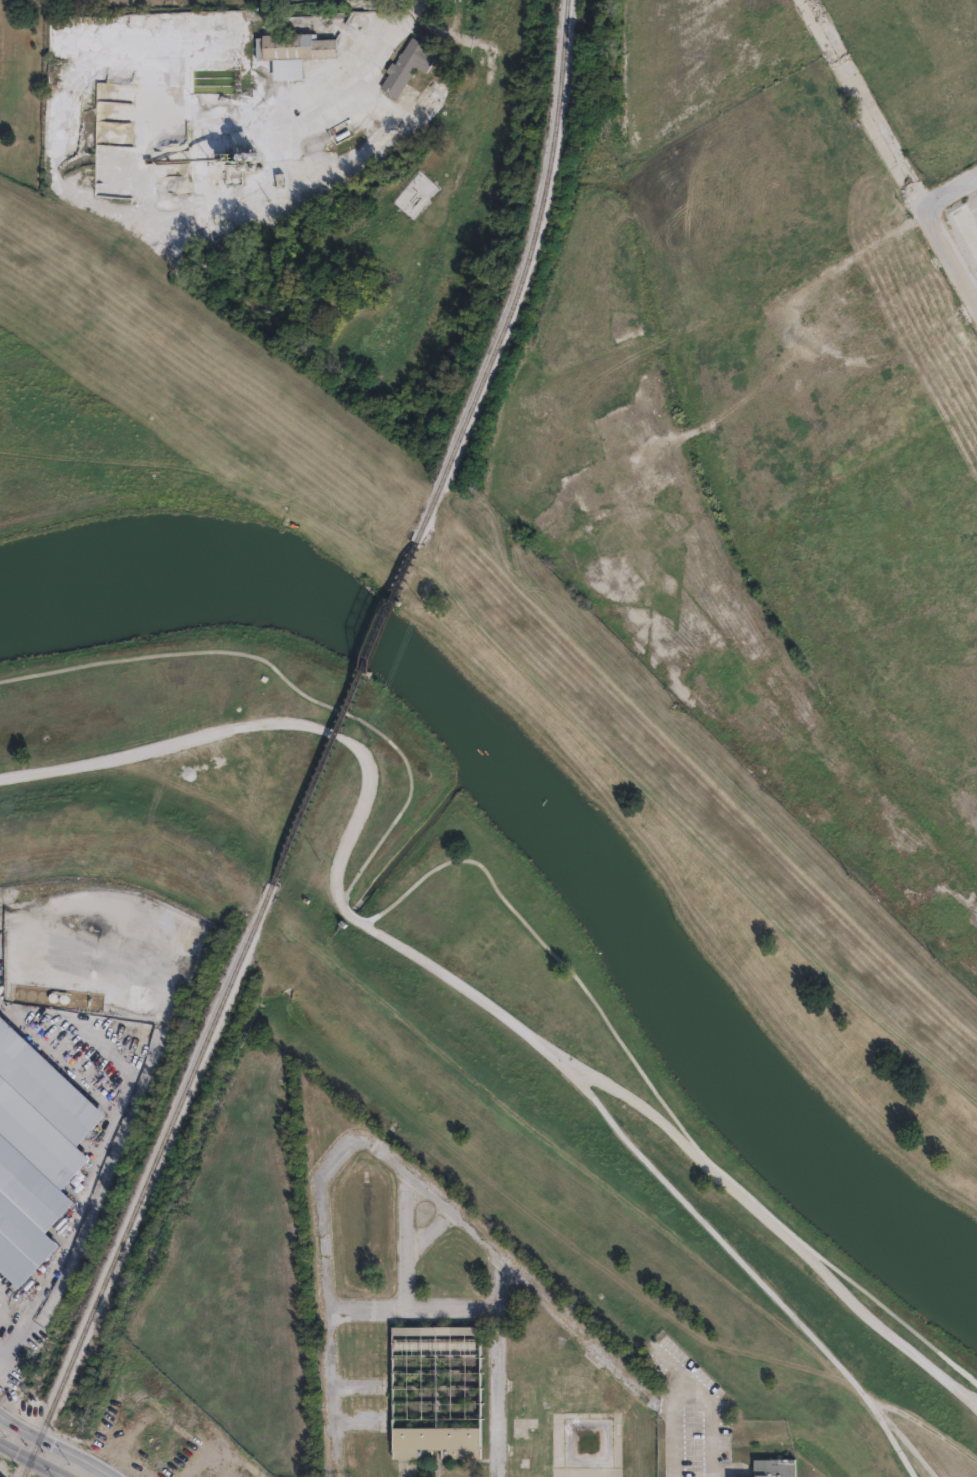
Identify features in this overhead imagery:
building: (718, 0)
road: (424, 3)
building: (669, 4)
building: (642, 5)
building: (937, 15)
building: (751, 22)
building: (294, 52)
building: (408, 65)
park: (21, 96)
building: (969, 99)
building: (925, 113)
building: (974, 122)
road: (303, 130)
road: (889, 152)
road: (949, 194)
building: (301, 201)
building: (967, 226)
railway: (528, 280)
park: (165, 555)
road: (292, 680)
railway: (345, 714)
river: (552, 818)
road: (458, 978)
park: (647, 1006)
road: (661, 1094)
building: (37, 1151)
road: (410, 1174)
railway: (151, 1182)
road: (428, 1232)
road: (404, 1241)
road: (413, 1314)
parking lot: (13, 1325)
building: (437, 1331)
road: (499, 1366)
building: (370, 1416)
building: (436, 1442)
building: (368, 1451)
building: (776, 1471)
building: (464, 1476)

